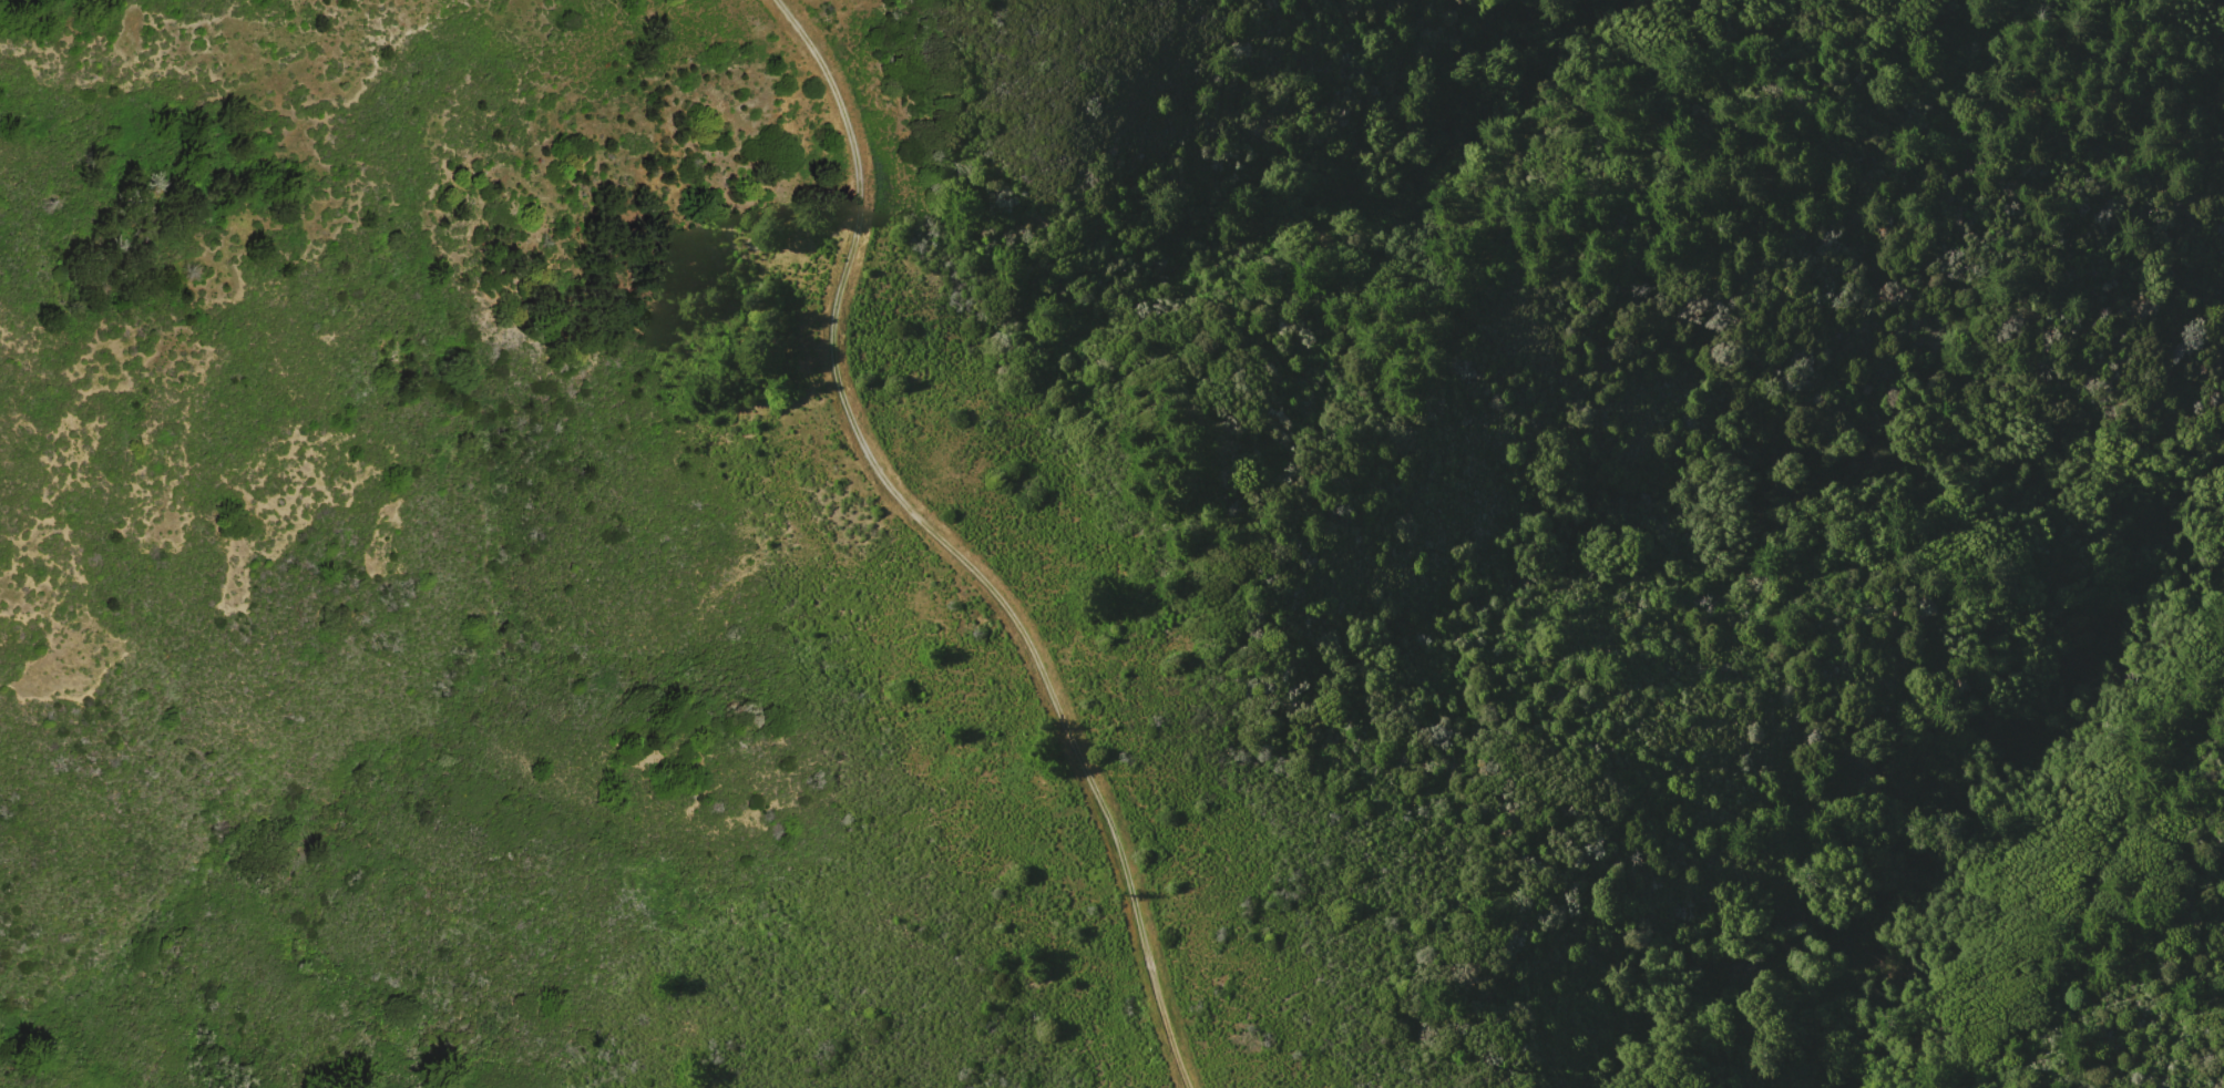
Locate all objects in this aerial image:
road: (951, 544)

